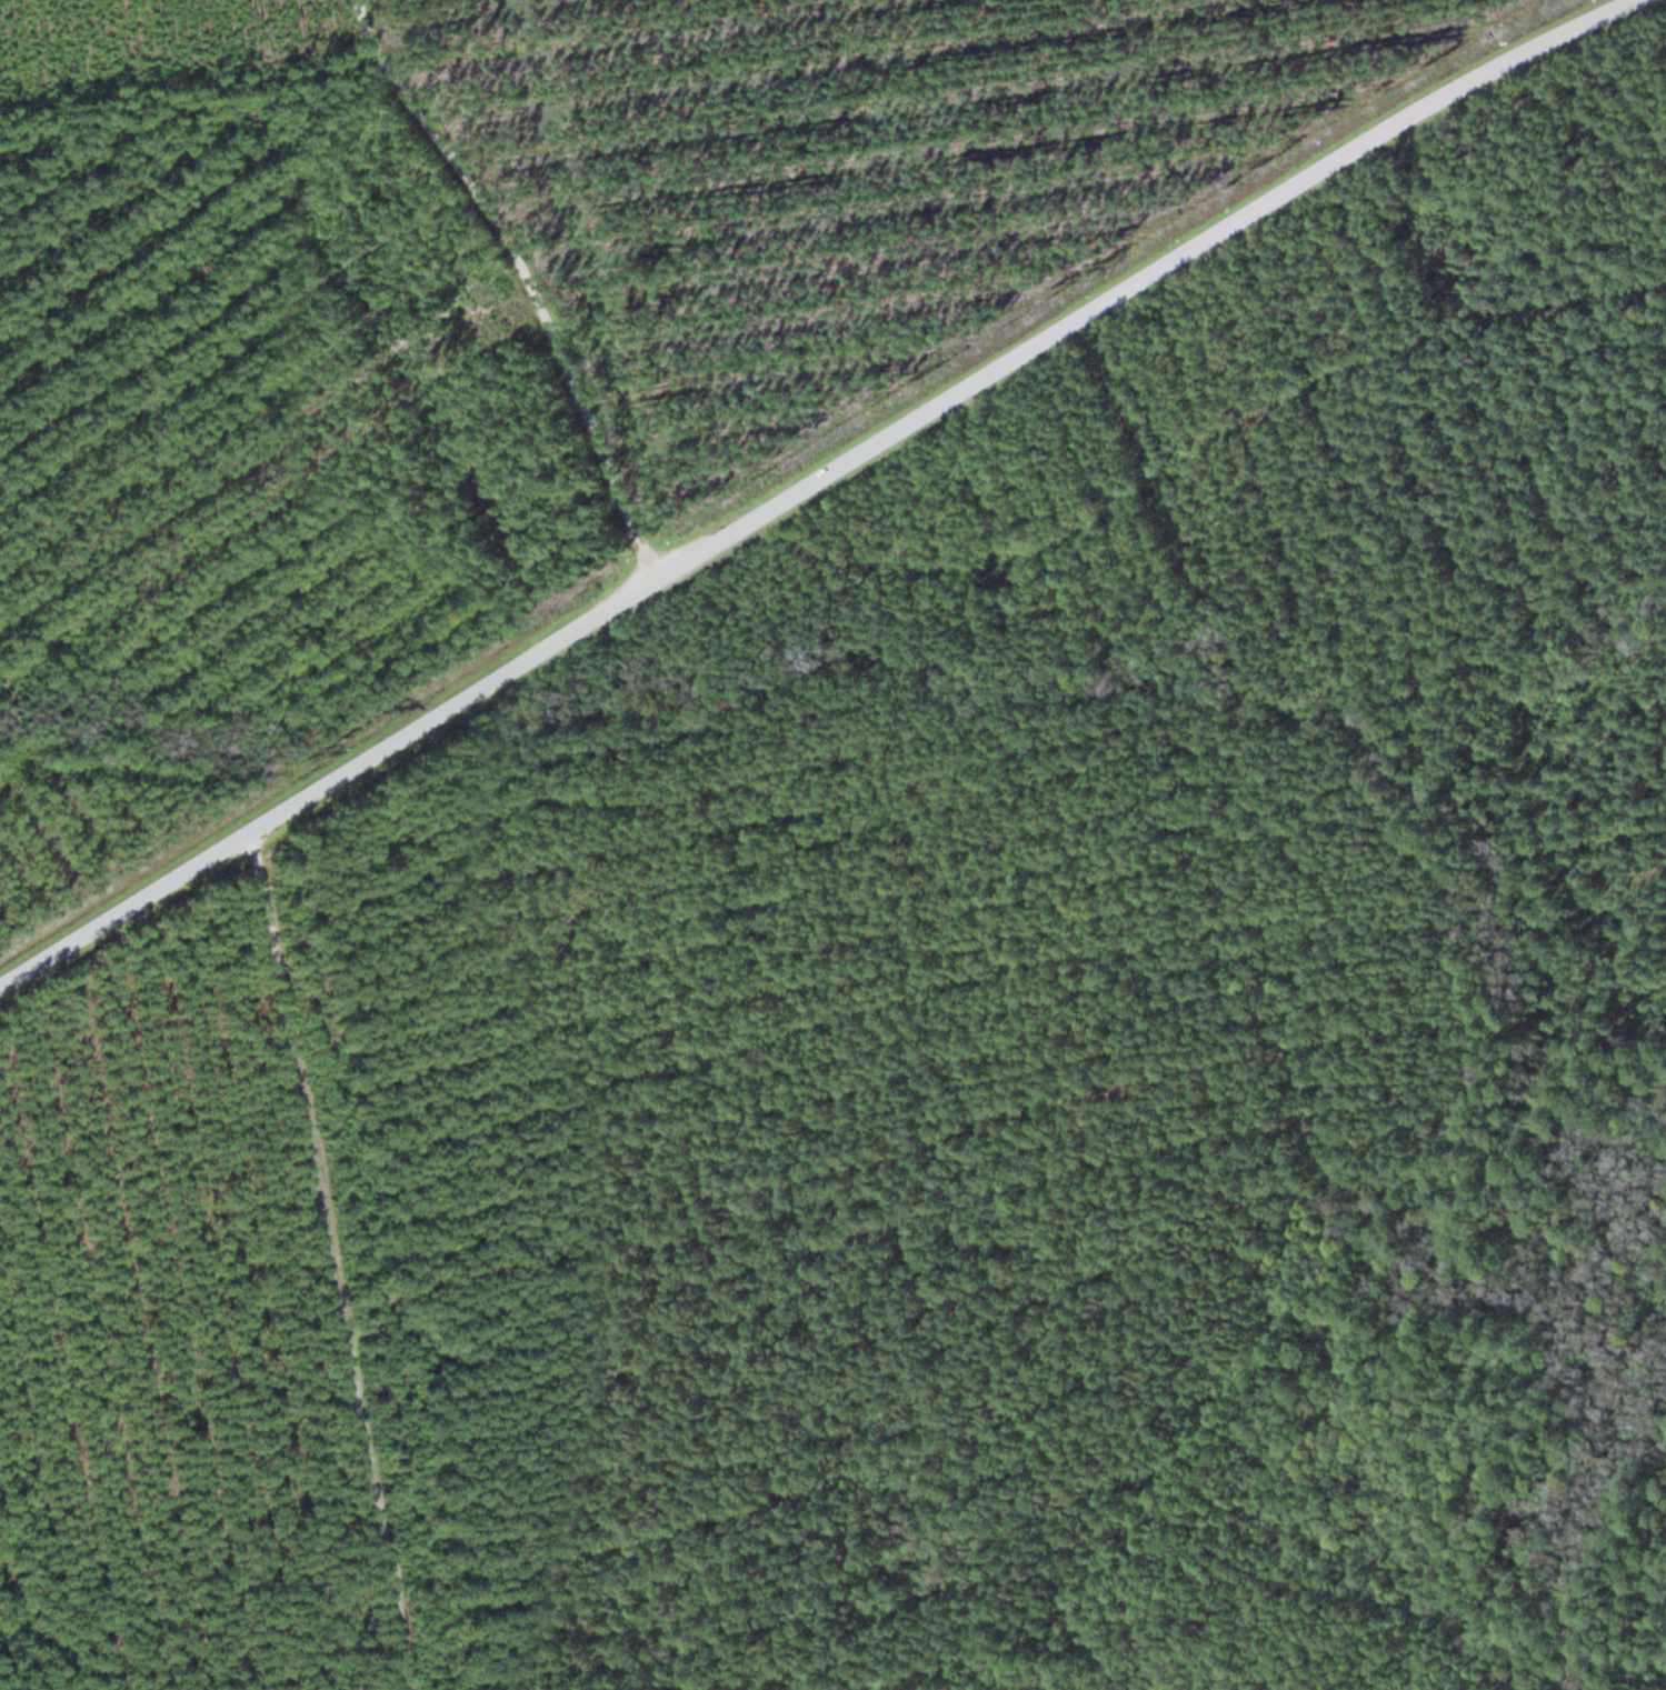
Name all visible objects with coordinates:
road: (549, 269)
road: (811, 476)
road: (382, 1251)

